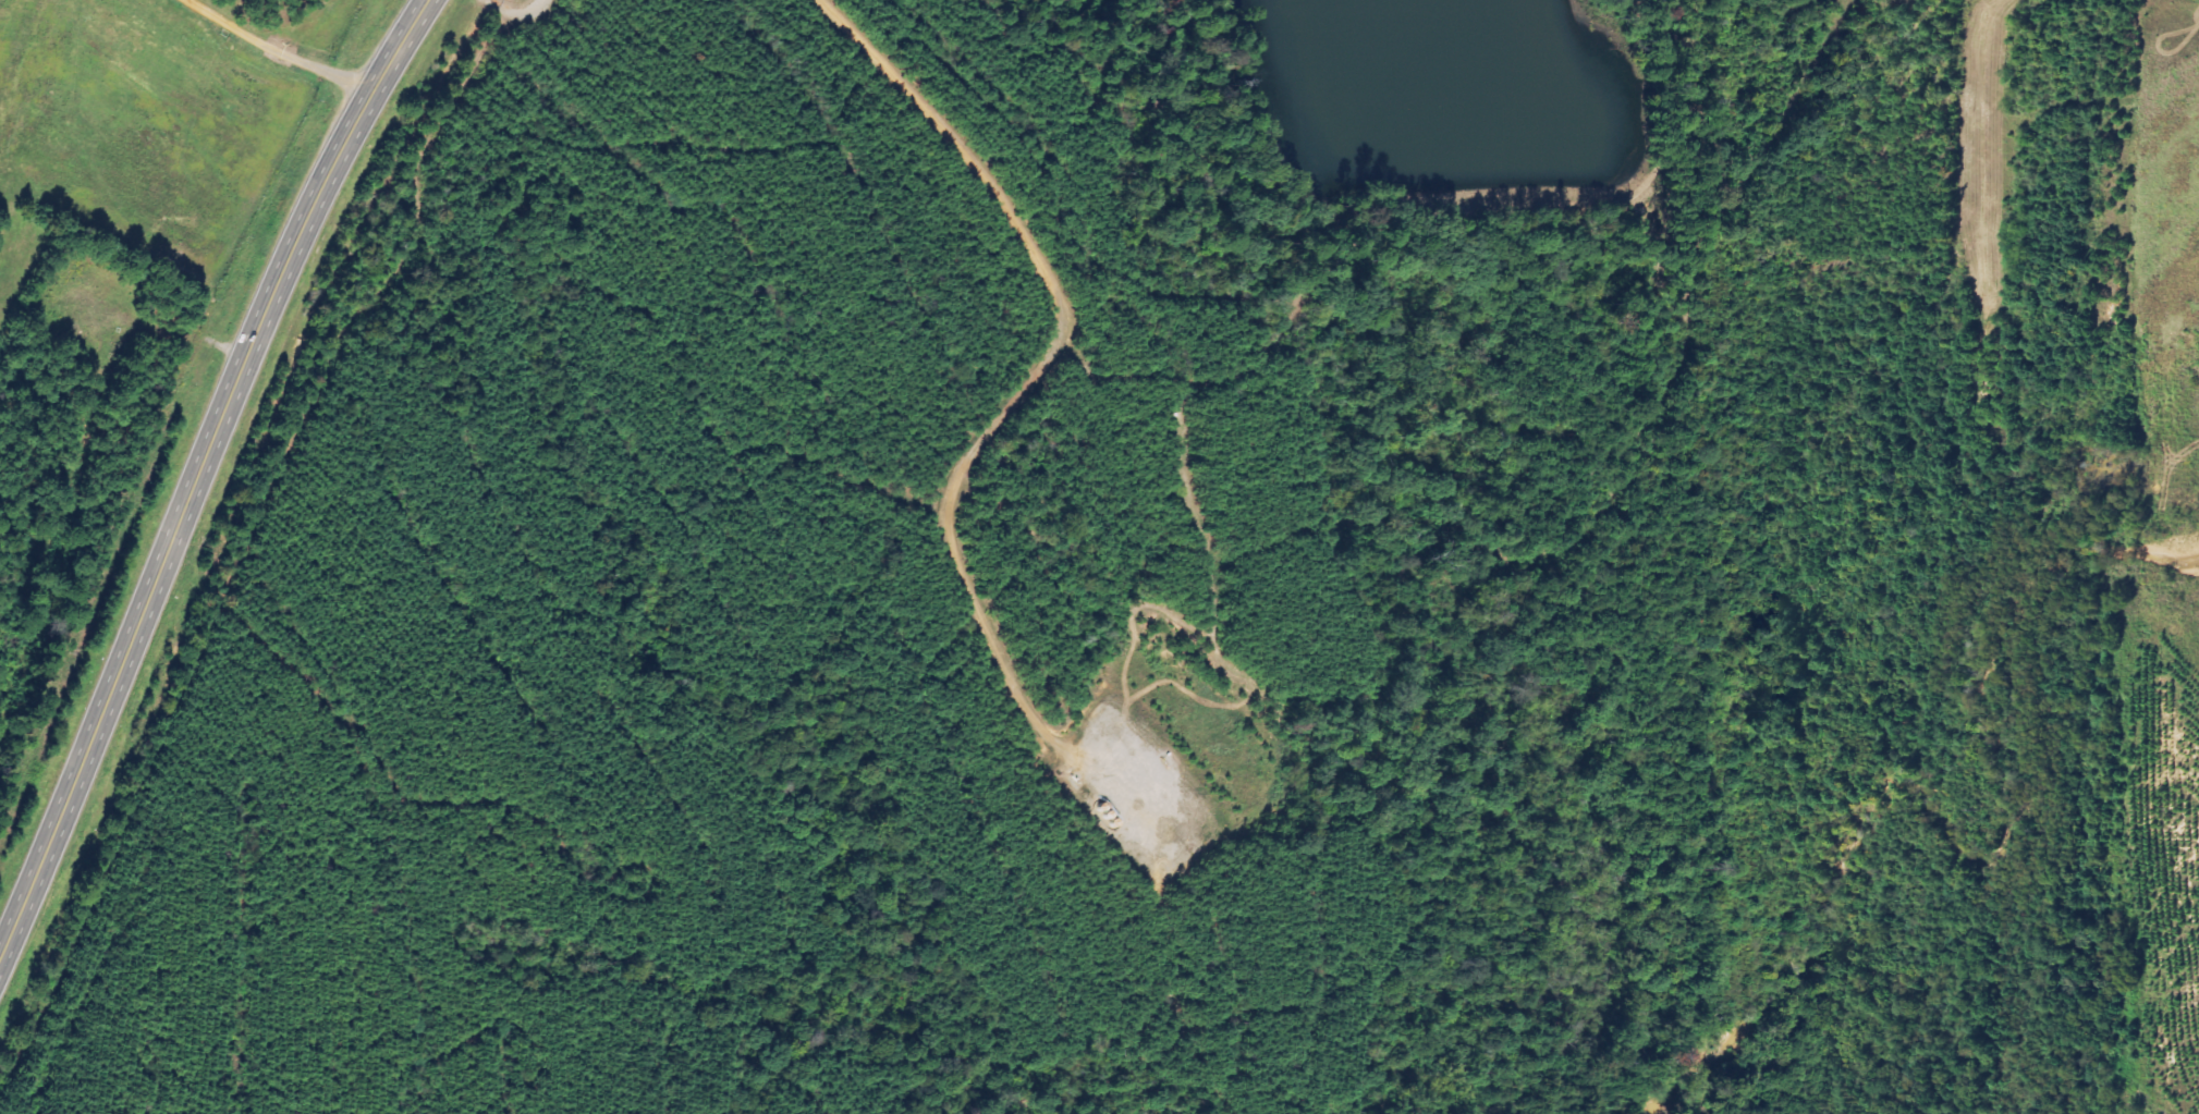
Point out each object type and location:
road: (198, 473)

